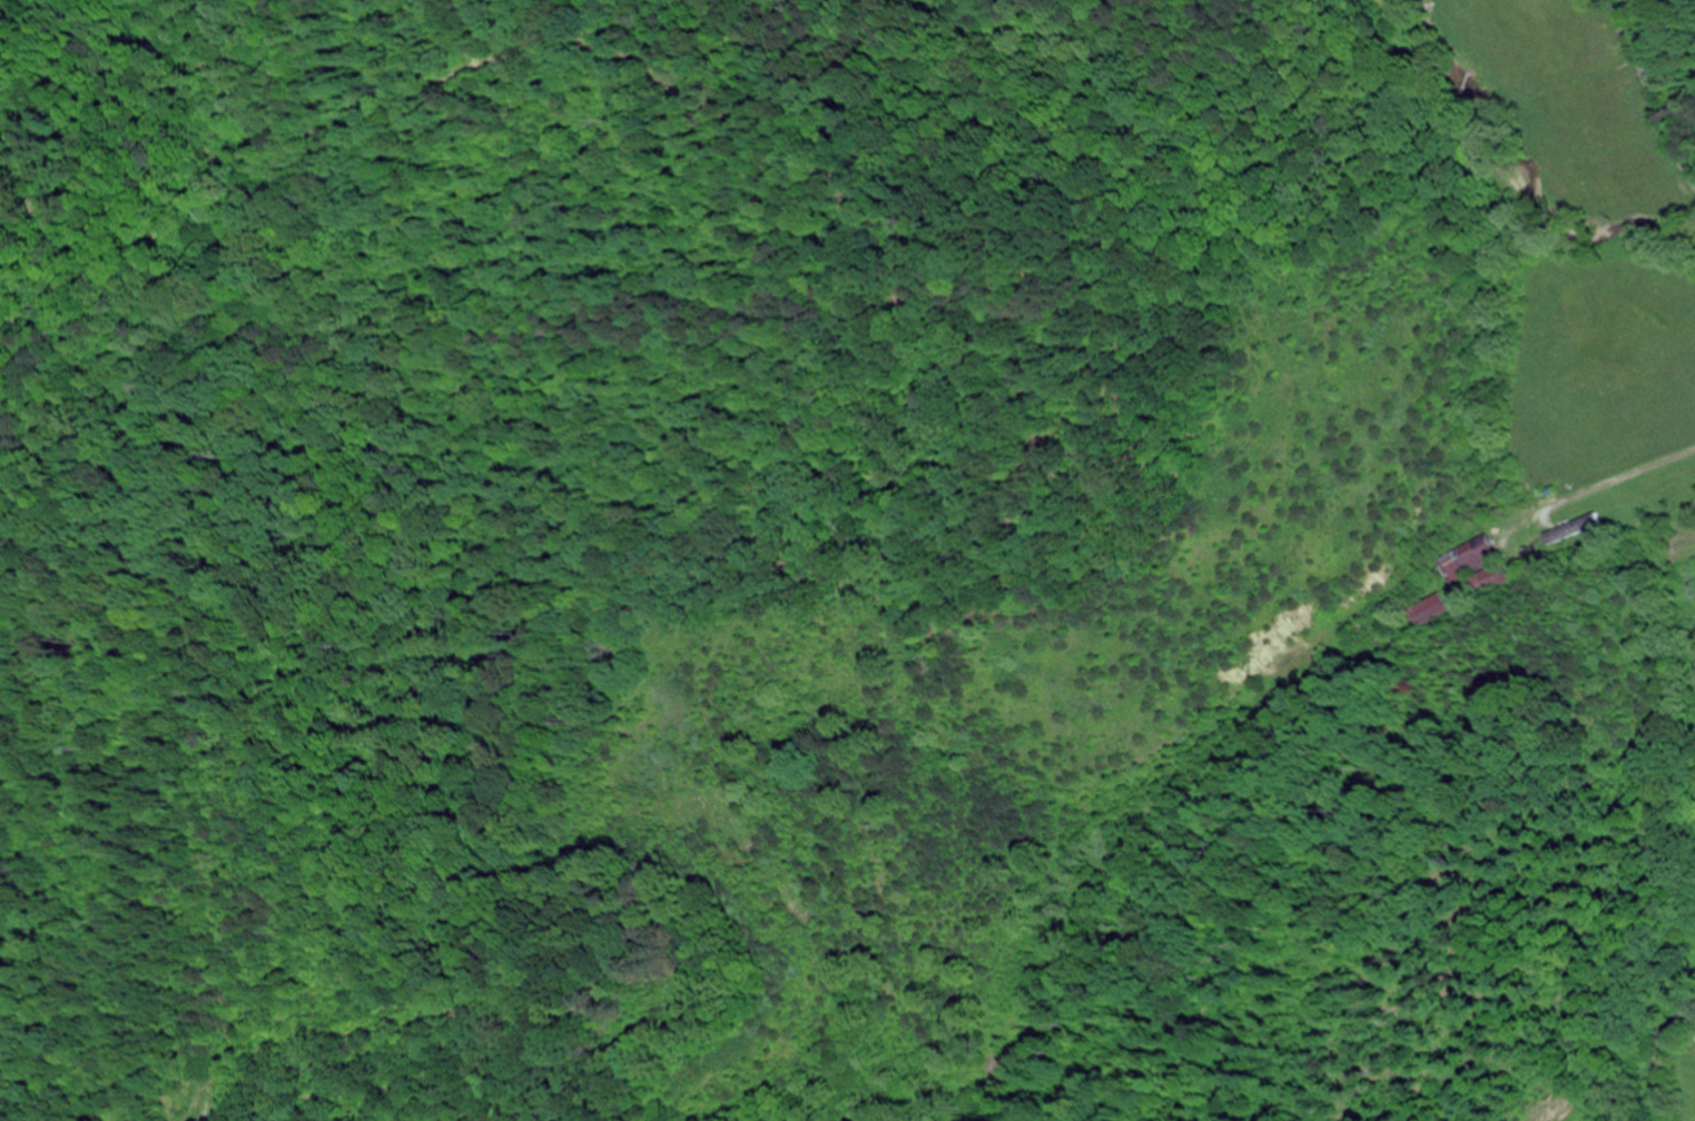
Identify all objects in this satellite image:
road: (1648, 93)
building: (1571, 532)
building: (1476, 568)
building: (1429, 611)
road: (269, 683)
road: (169, 836)

